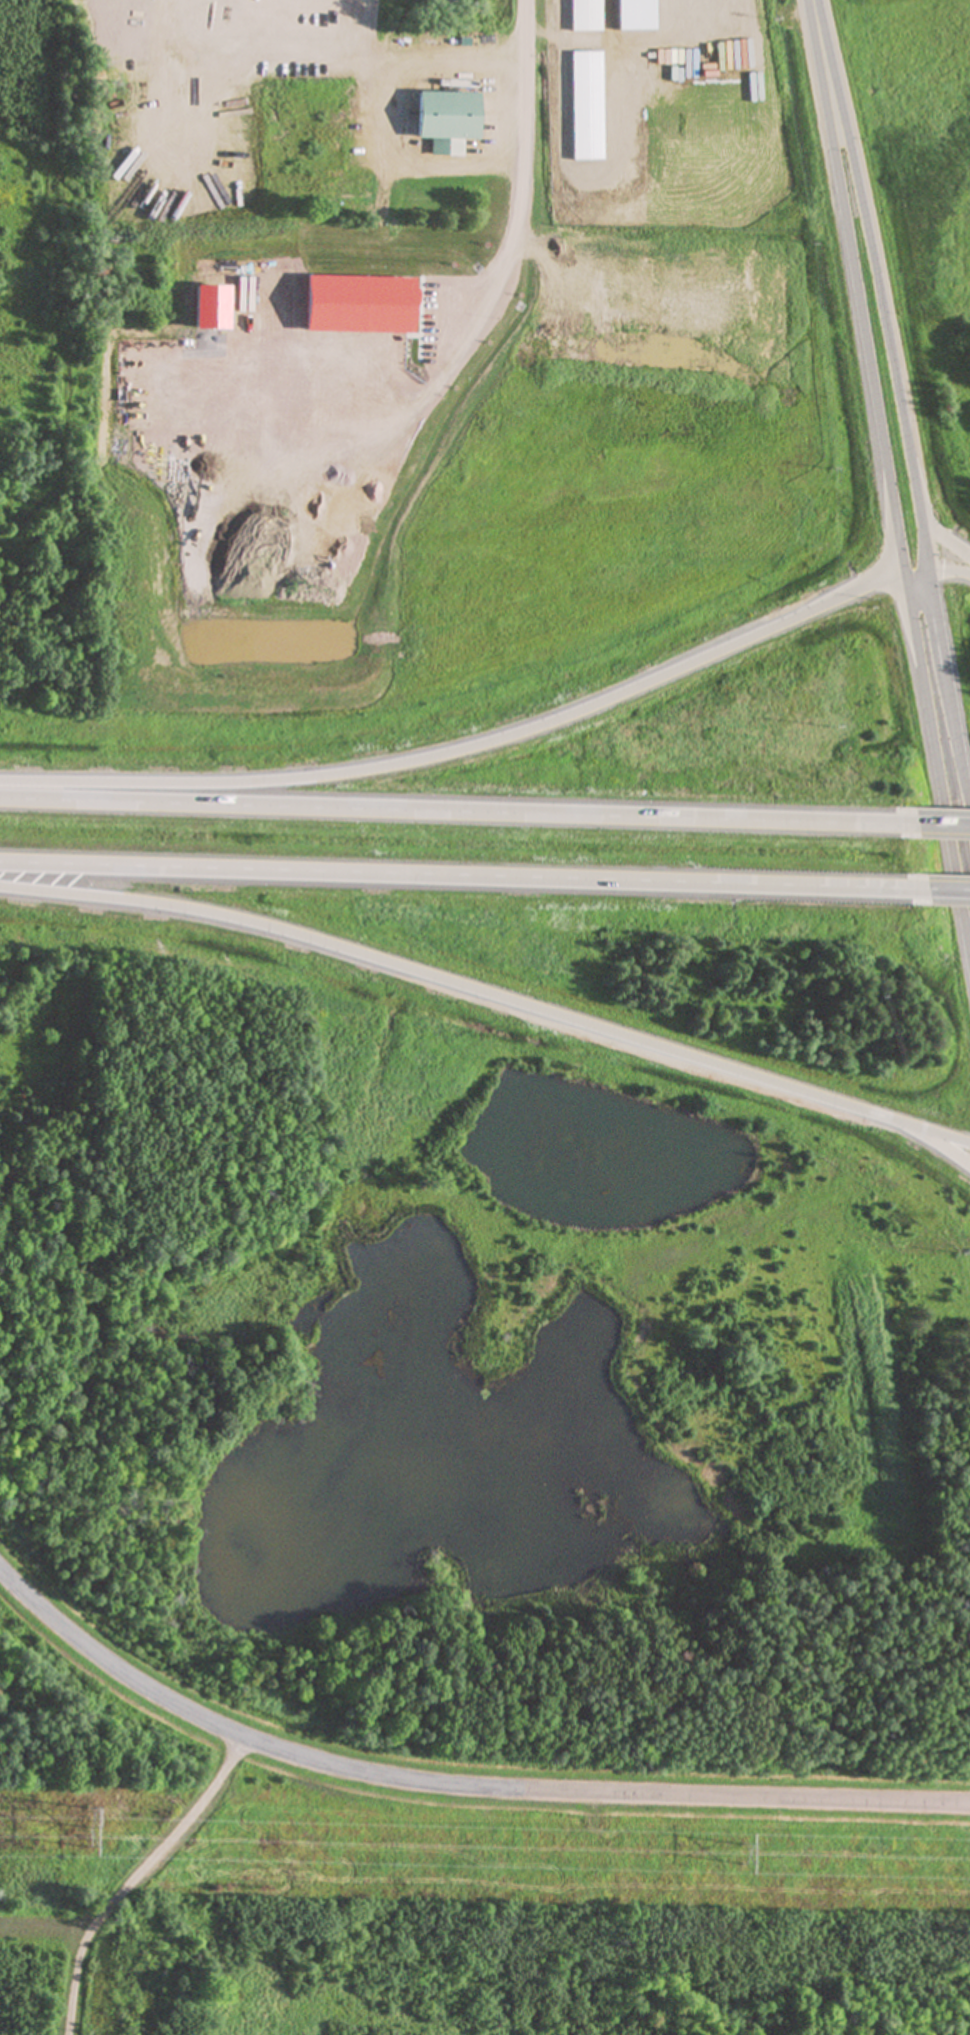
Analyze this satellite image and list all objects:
building: (445, 120)
road: (873, 261)
road: (856, 286)
road: (946, 540)
road: (926, 546)
road: (950, 568)
road: (915, 570)
road: (950, 679)
road: (464, 742)
road: (935, 755)
road: (456, 810)
road: (942, 824)
road: (462, 873)
road: (947, 887)
road: (454, 984)
road: (935, 1132)
road: (935, 1142)
road: (455, 1784)

